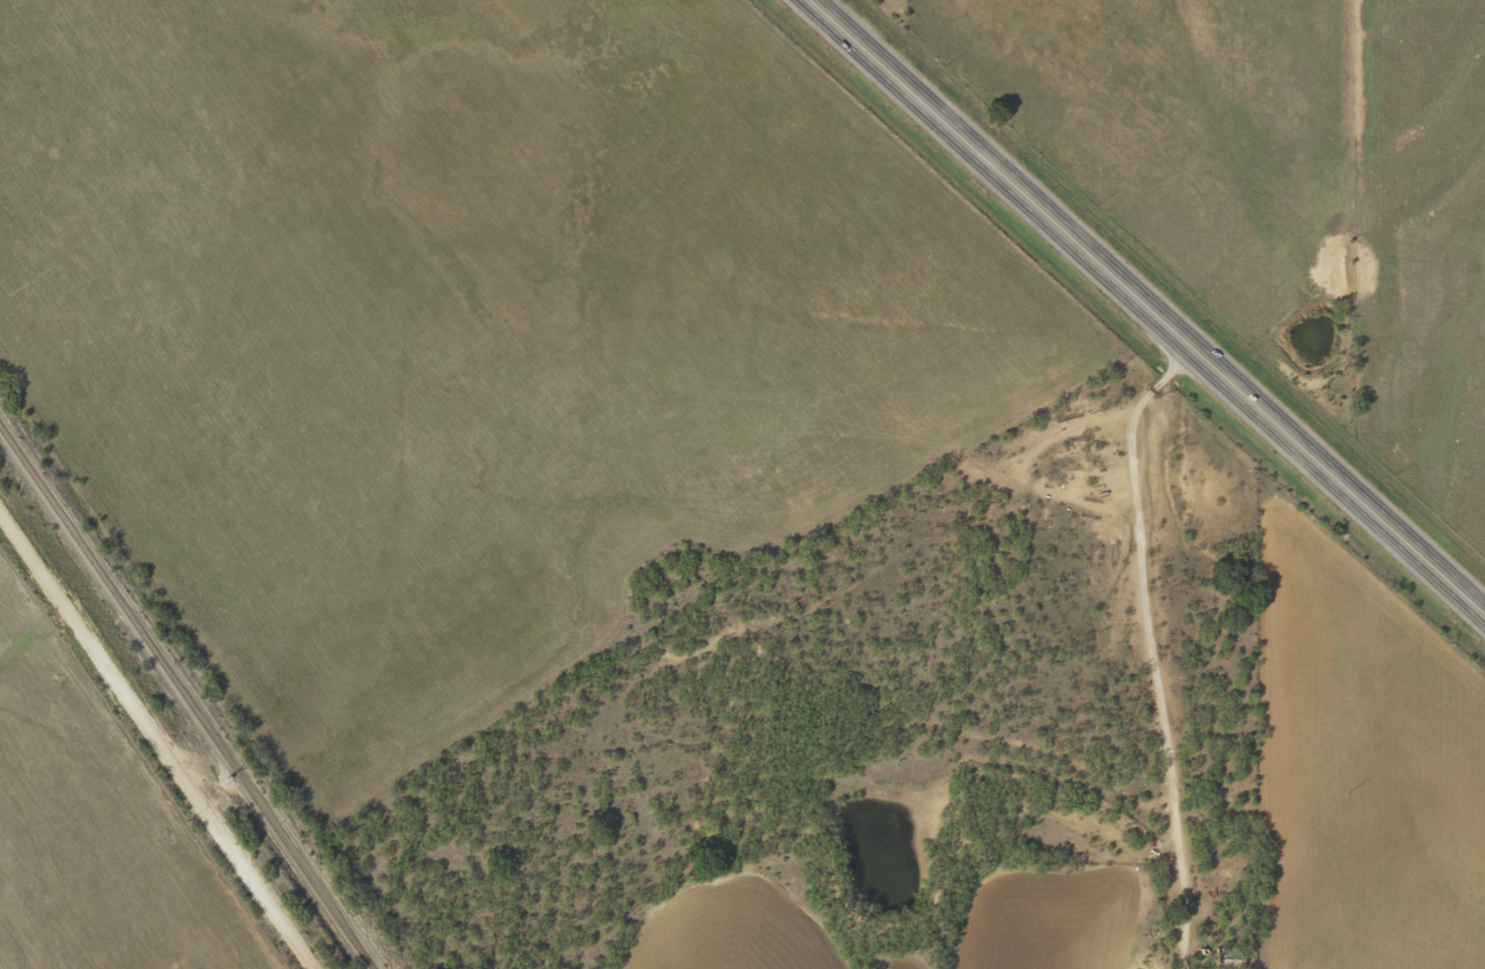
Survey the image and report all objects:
road: (994, 175)
road: (1335, 486)
road: (1006, 539)
road: (1194, 660)
railway: (186, 699)
road: (145, 760)
building: (1224, 960)

